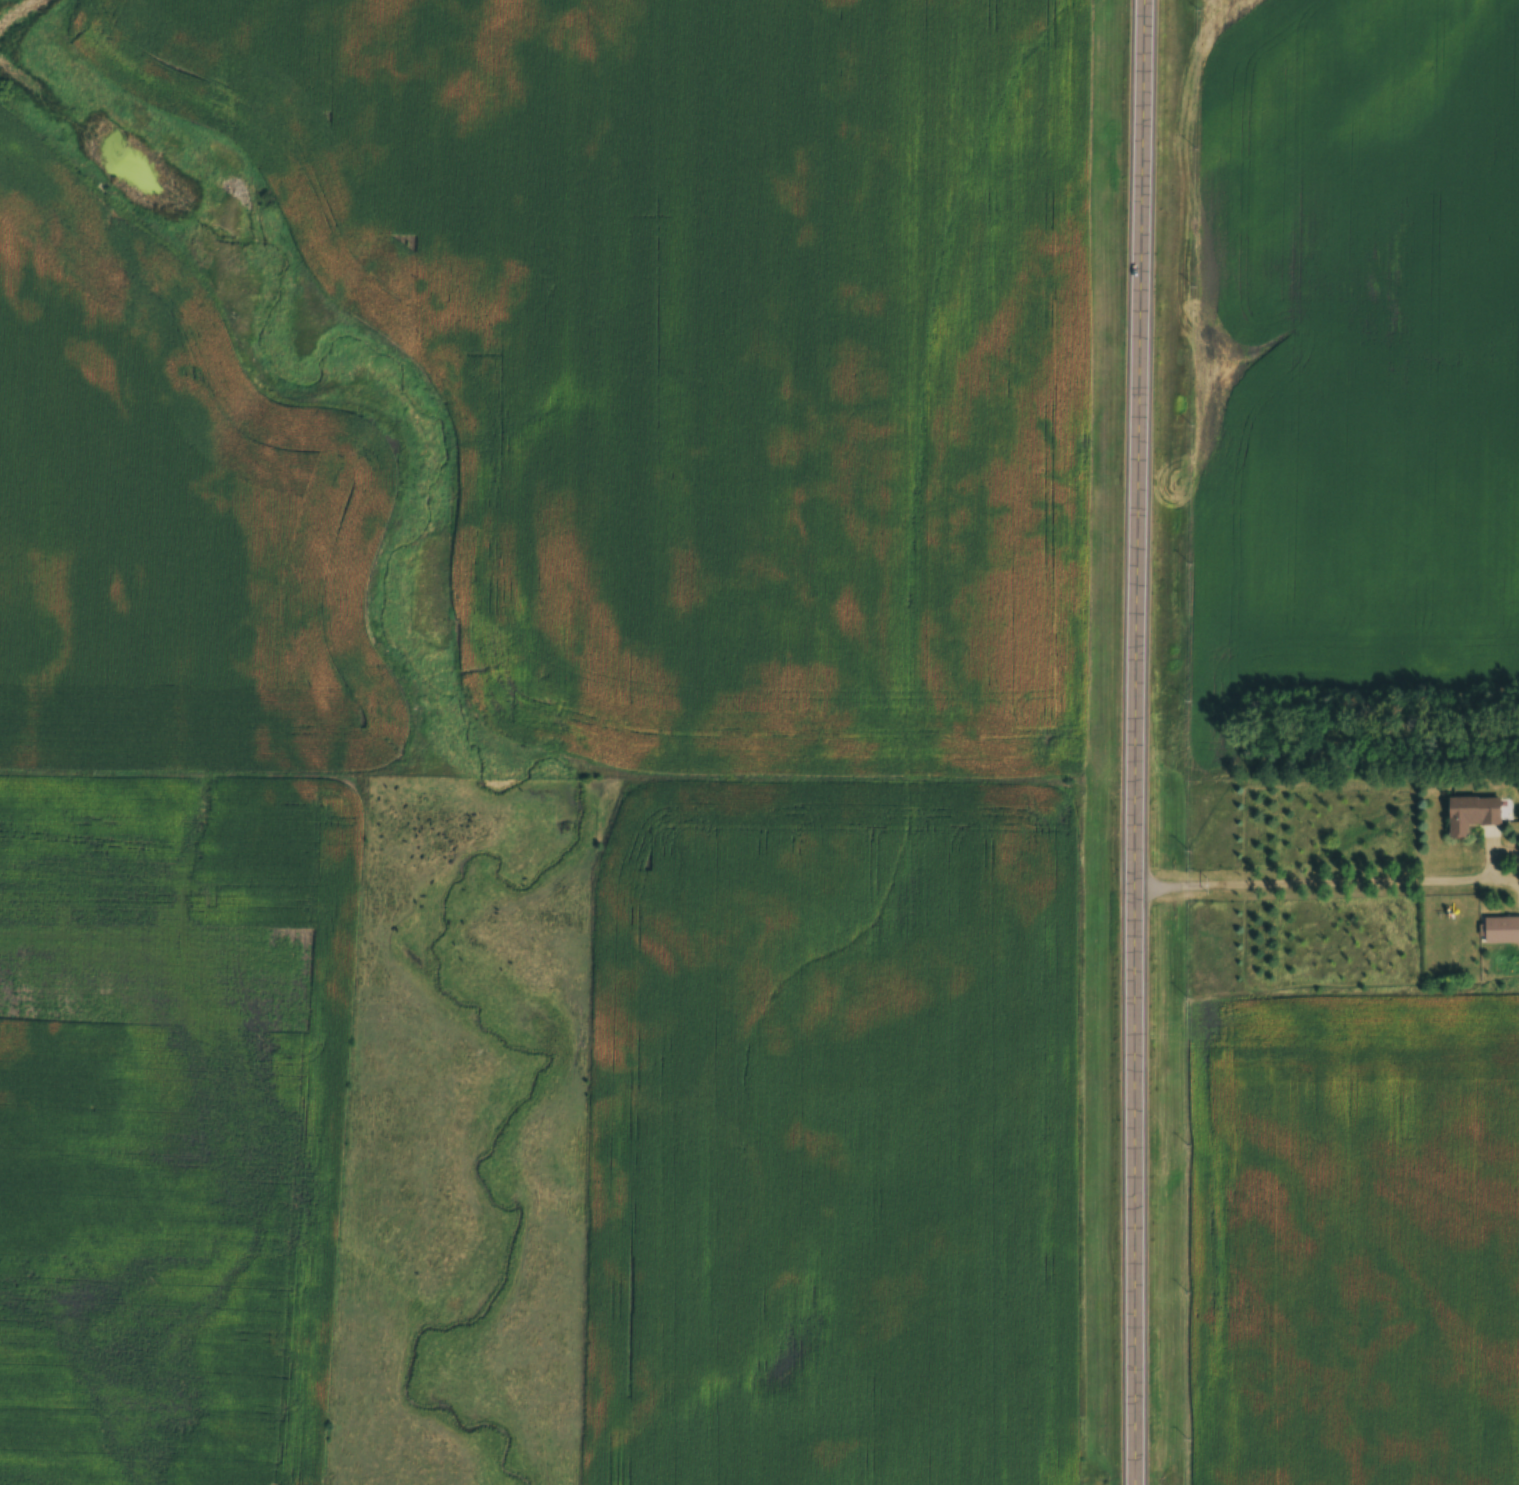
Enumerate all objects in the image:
road: (1149, 742)
building: (1465, 813)
road: (1339, 879)
building: (1499, 928)

